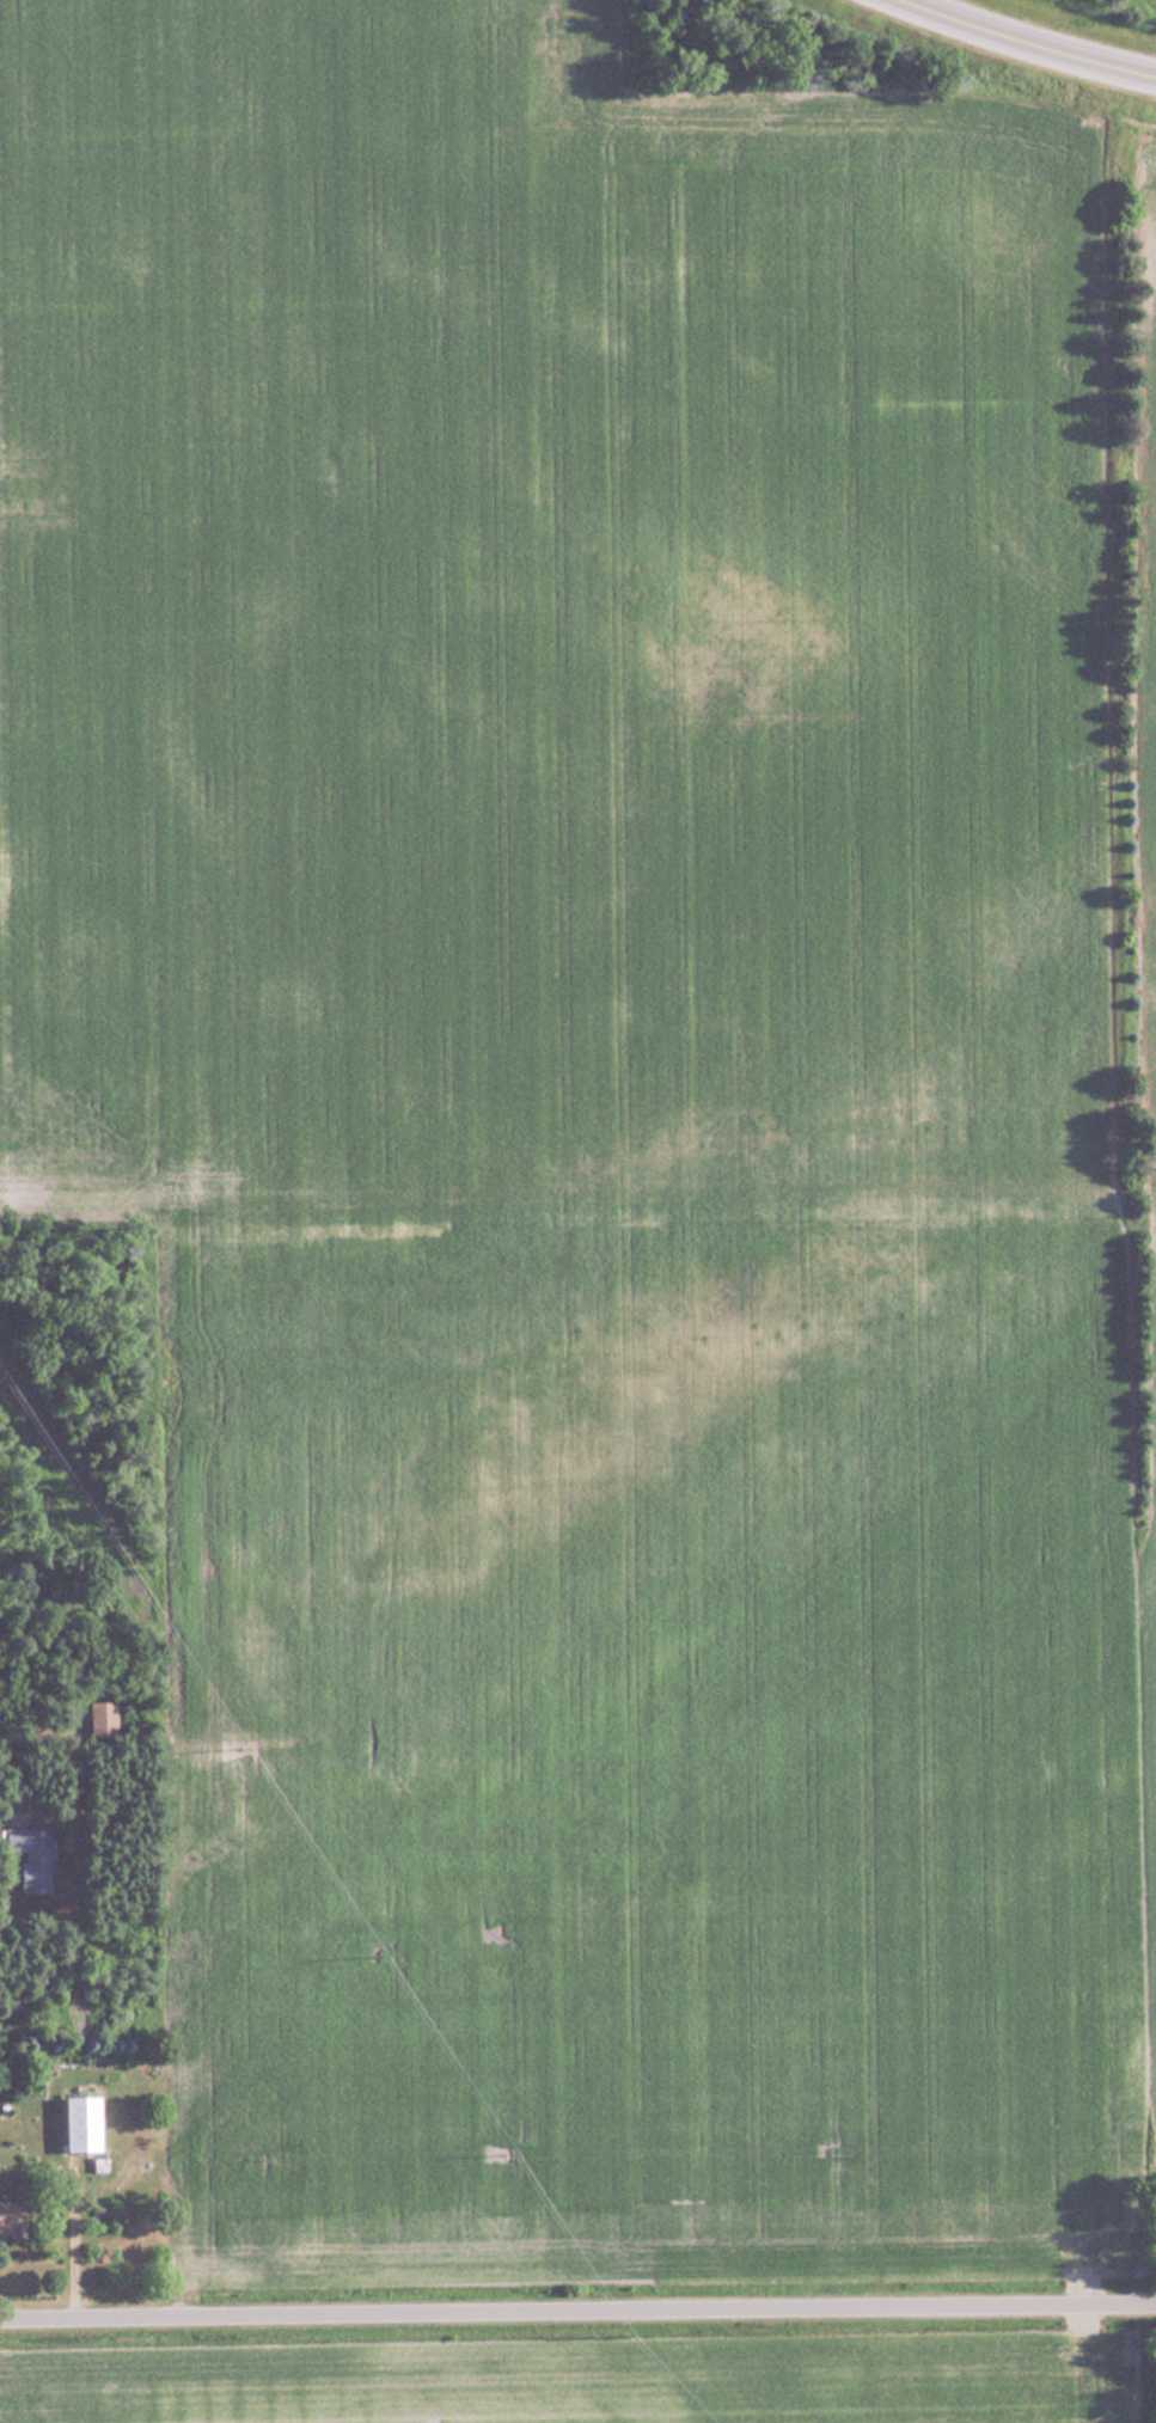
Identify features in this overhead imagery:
road: (1030, 43)
building: (86, 2123)
building: (14, 2217)
road: (577, 2318)

